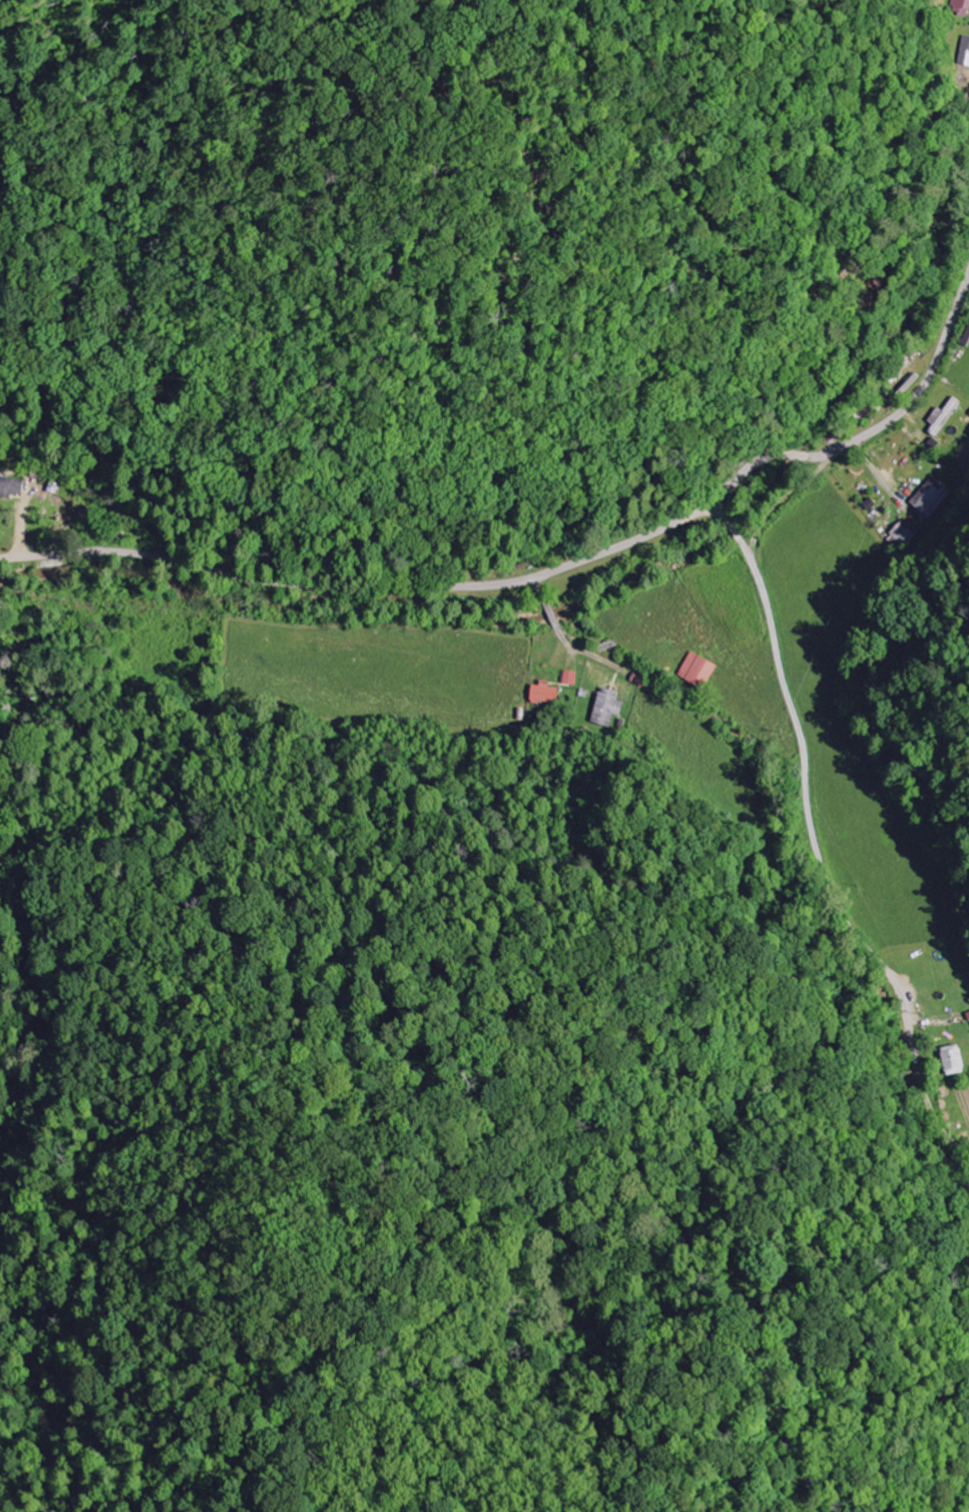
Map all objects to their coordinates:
building: (961, 3)
building: (963, 53)
road: (531, 278)
building: (12, 487)
building: (931, 497)
building: (902, 534)
road: (545, 569)
road: (561, 638)
building: (700, 670)
building: (570, 678)
building: (544, 693)
road: (790, 702)
building: (608, 707)
road: (910, 1031)
building: (952, 1060)

